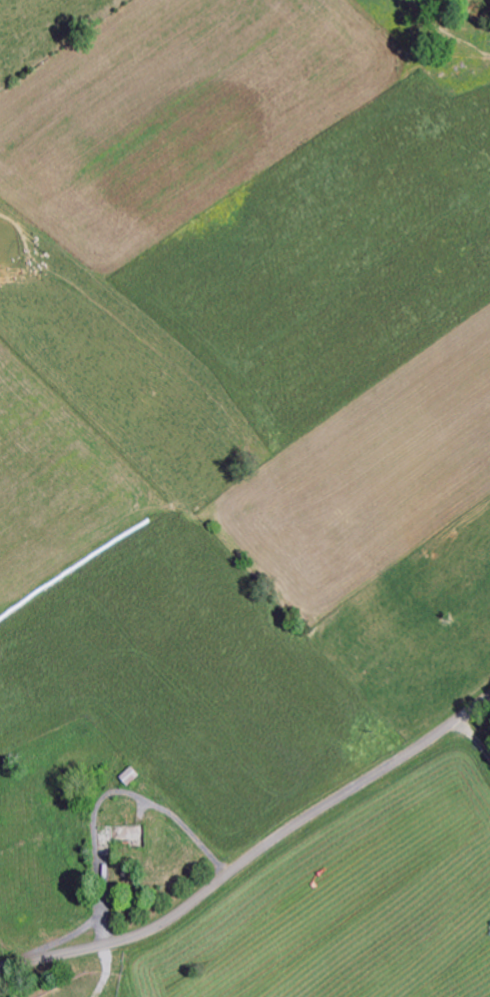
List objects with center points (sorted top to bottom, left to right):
road: (254, 852)

